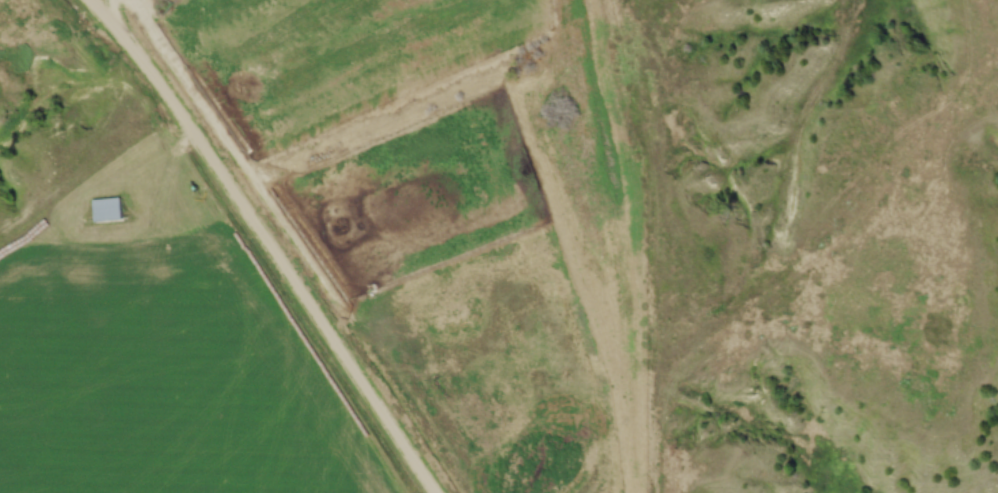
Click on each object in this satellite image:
road: (116, 10)
building: (106, 210)
road: (268, 243)

